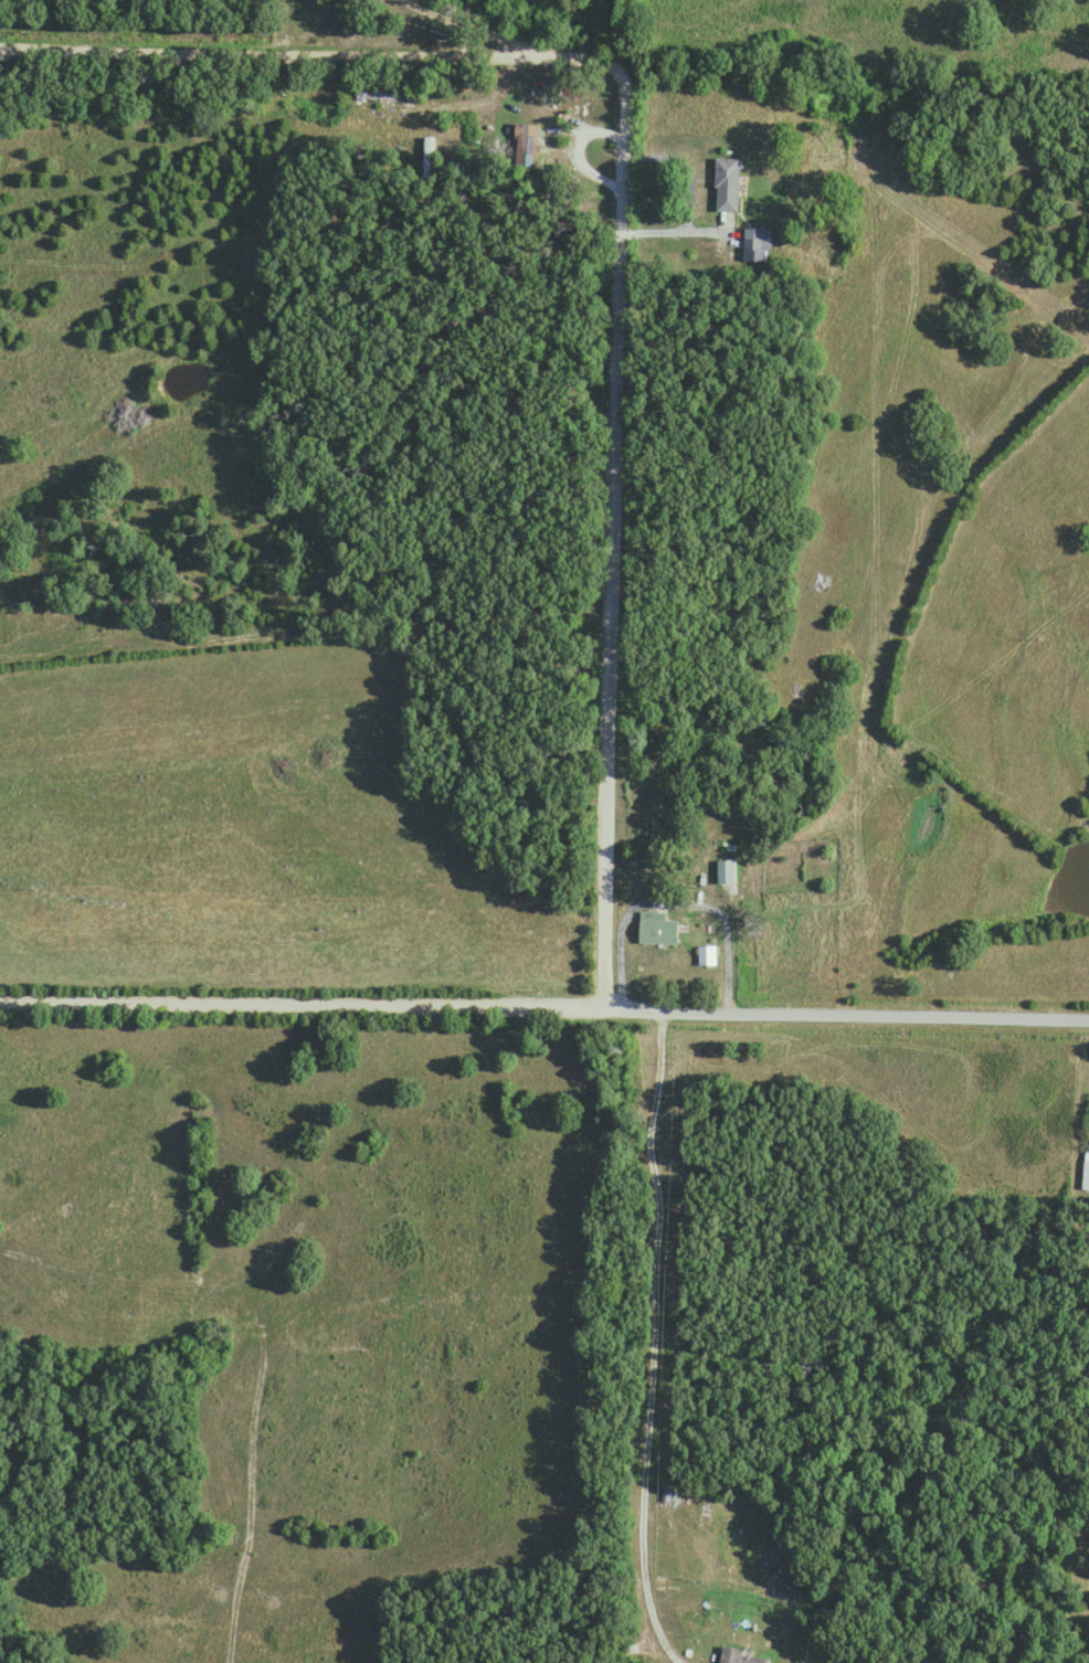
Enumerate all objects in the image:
road: (467, 21)
building: (526, 141)
building: (727, 182)
road: (618, 221)
road: (675, 227)
building: (758, 236)
road: (720, 898)
building: (657, 926)
building: (707, 953)
road: (299, 1002)
road: (845, 1010)
building: (1086, 1173)

